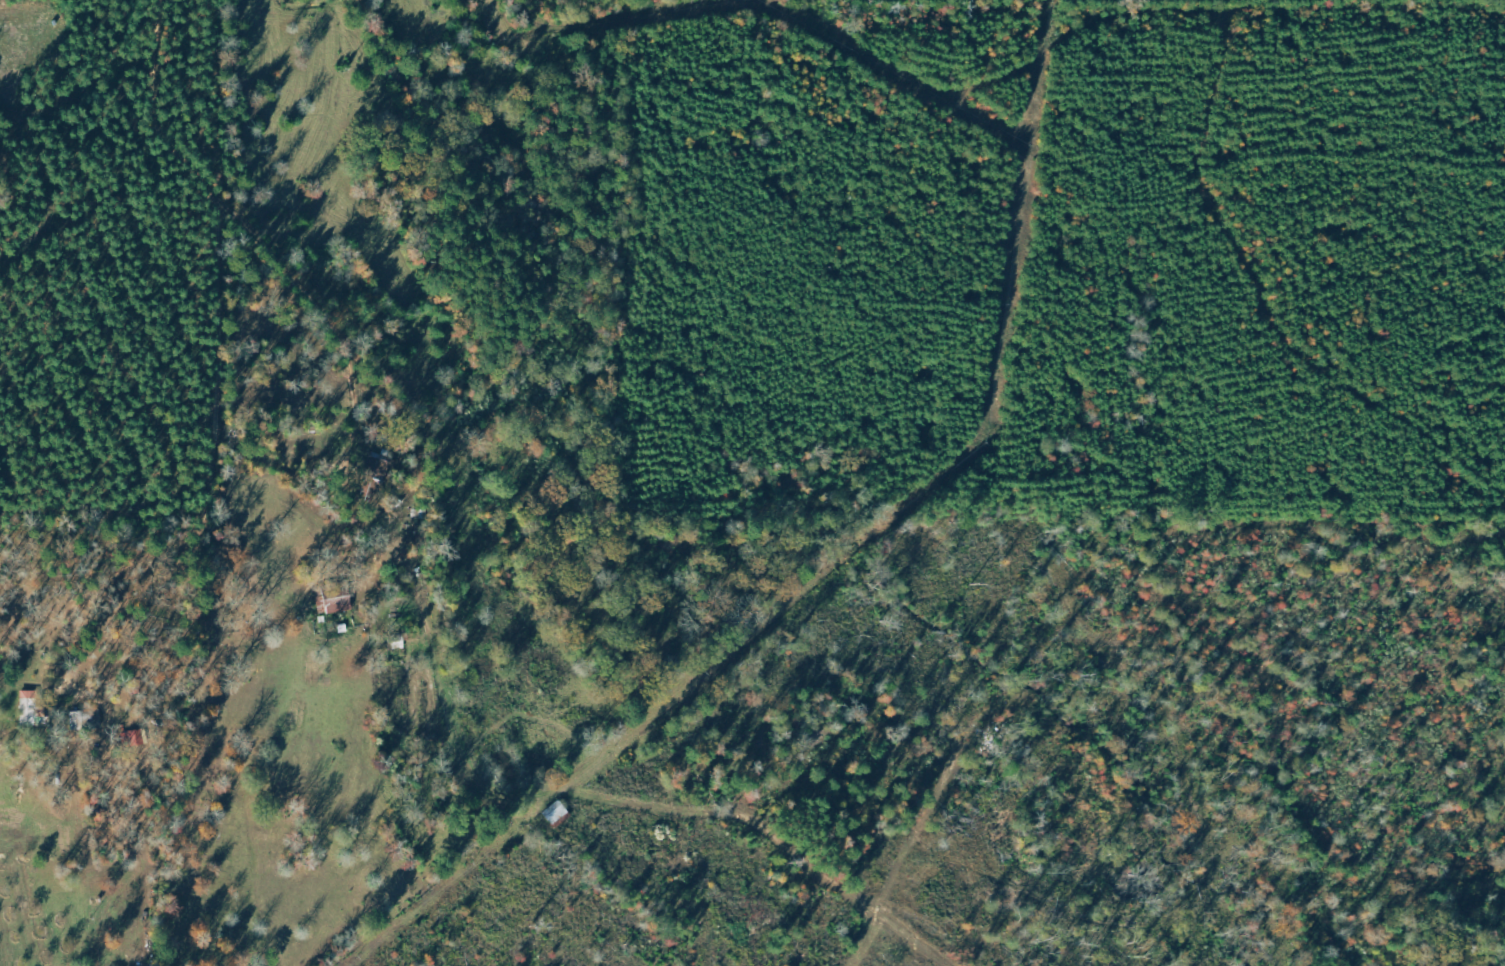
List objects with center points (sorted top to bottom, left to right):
road: (599, 13)
road: (1001, 49)
road: (42, 232)
building: (378, 475)
road: (360, 568)
building: (335, 598)
building: (30, 707)
building: (135, 738)
building: (558, 812)

